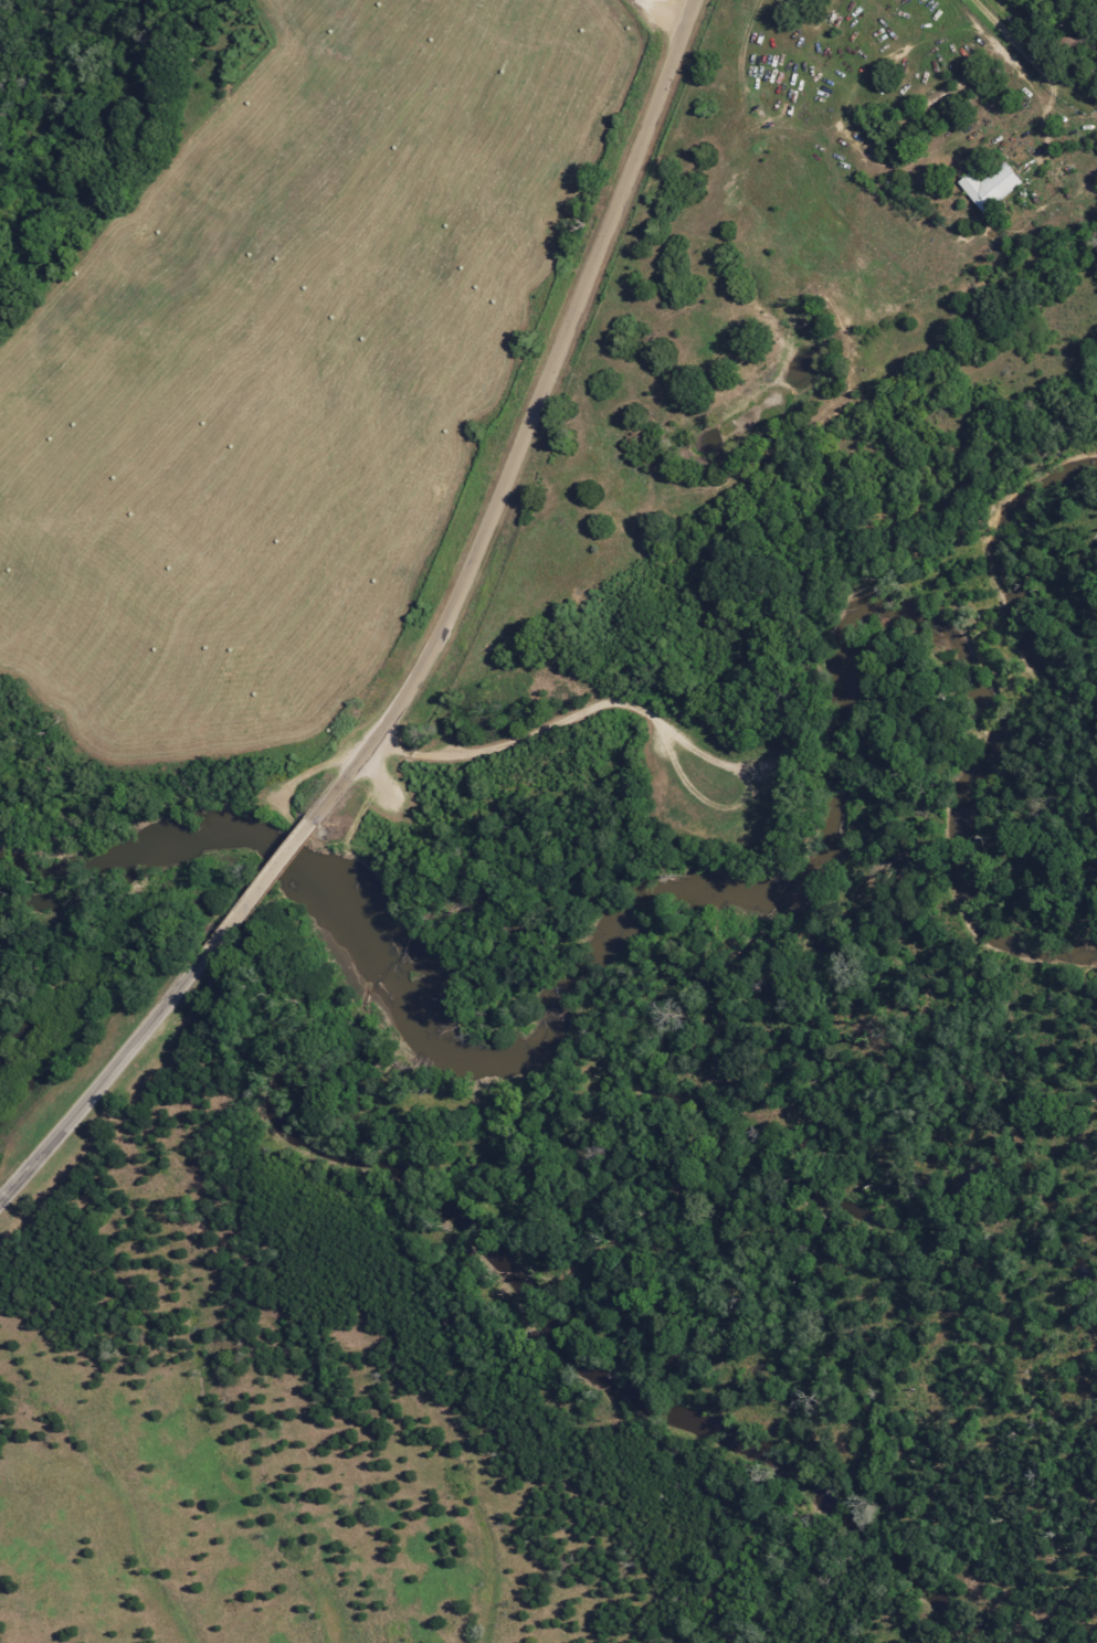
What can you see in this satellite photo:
road: (1059, 15)
building: (990, 188)
road: (1045, 189)
road: (508, 441)
road: (144, 1033)

